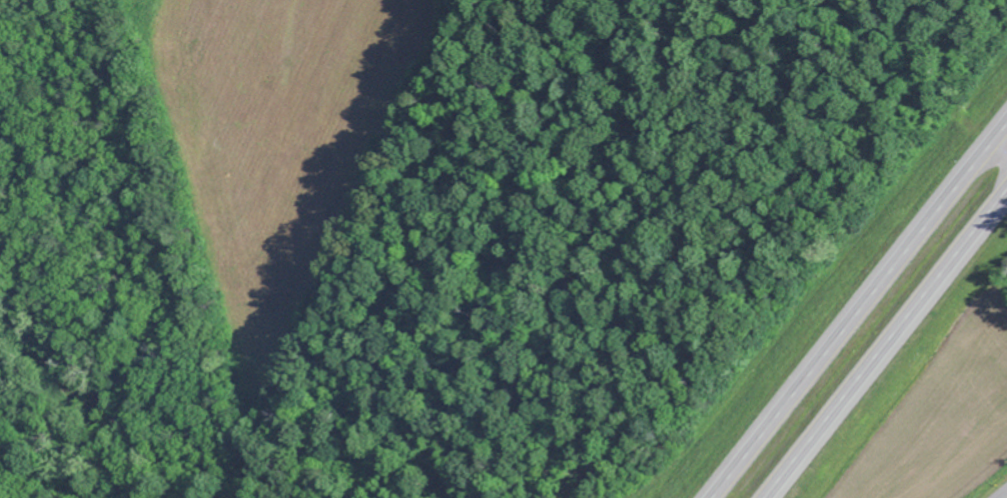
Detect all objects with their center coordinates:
road: (999, 141)
road: (856, 306)
road: (889, 347)
road: (1001, 493)

